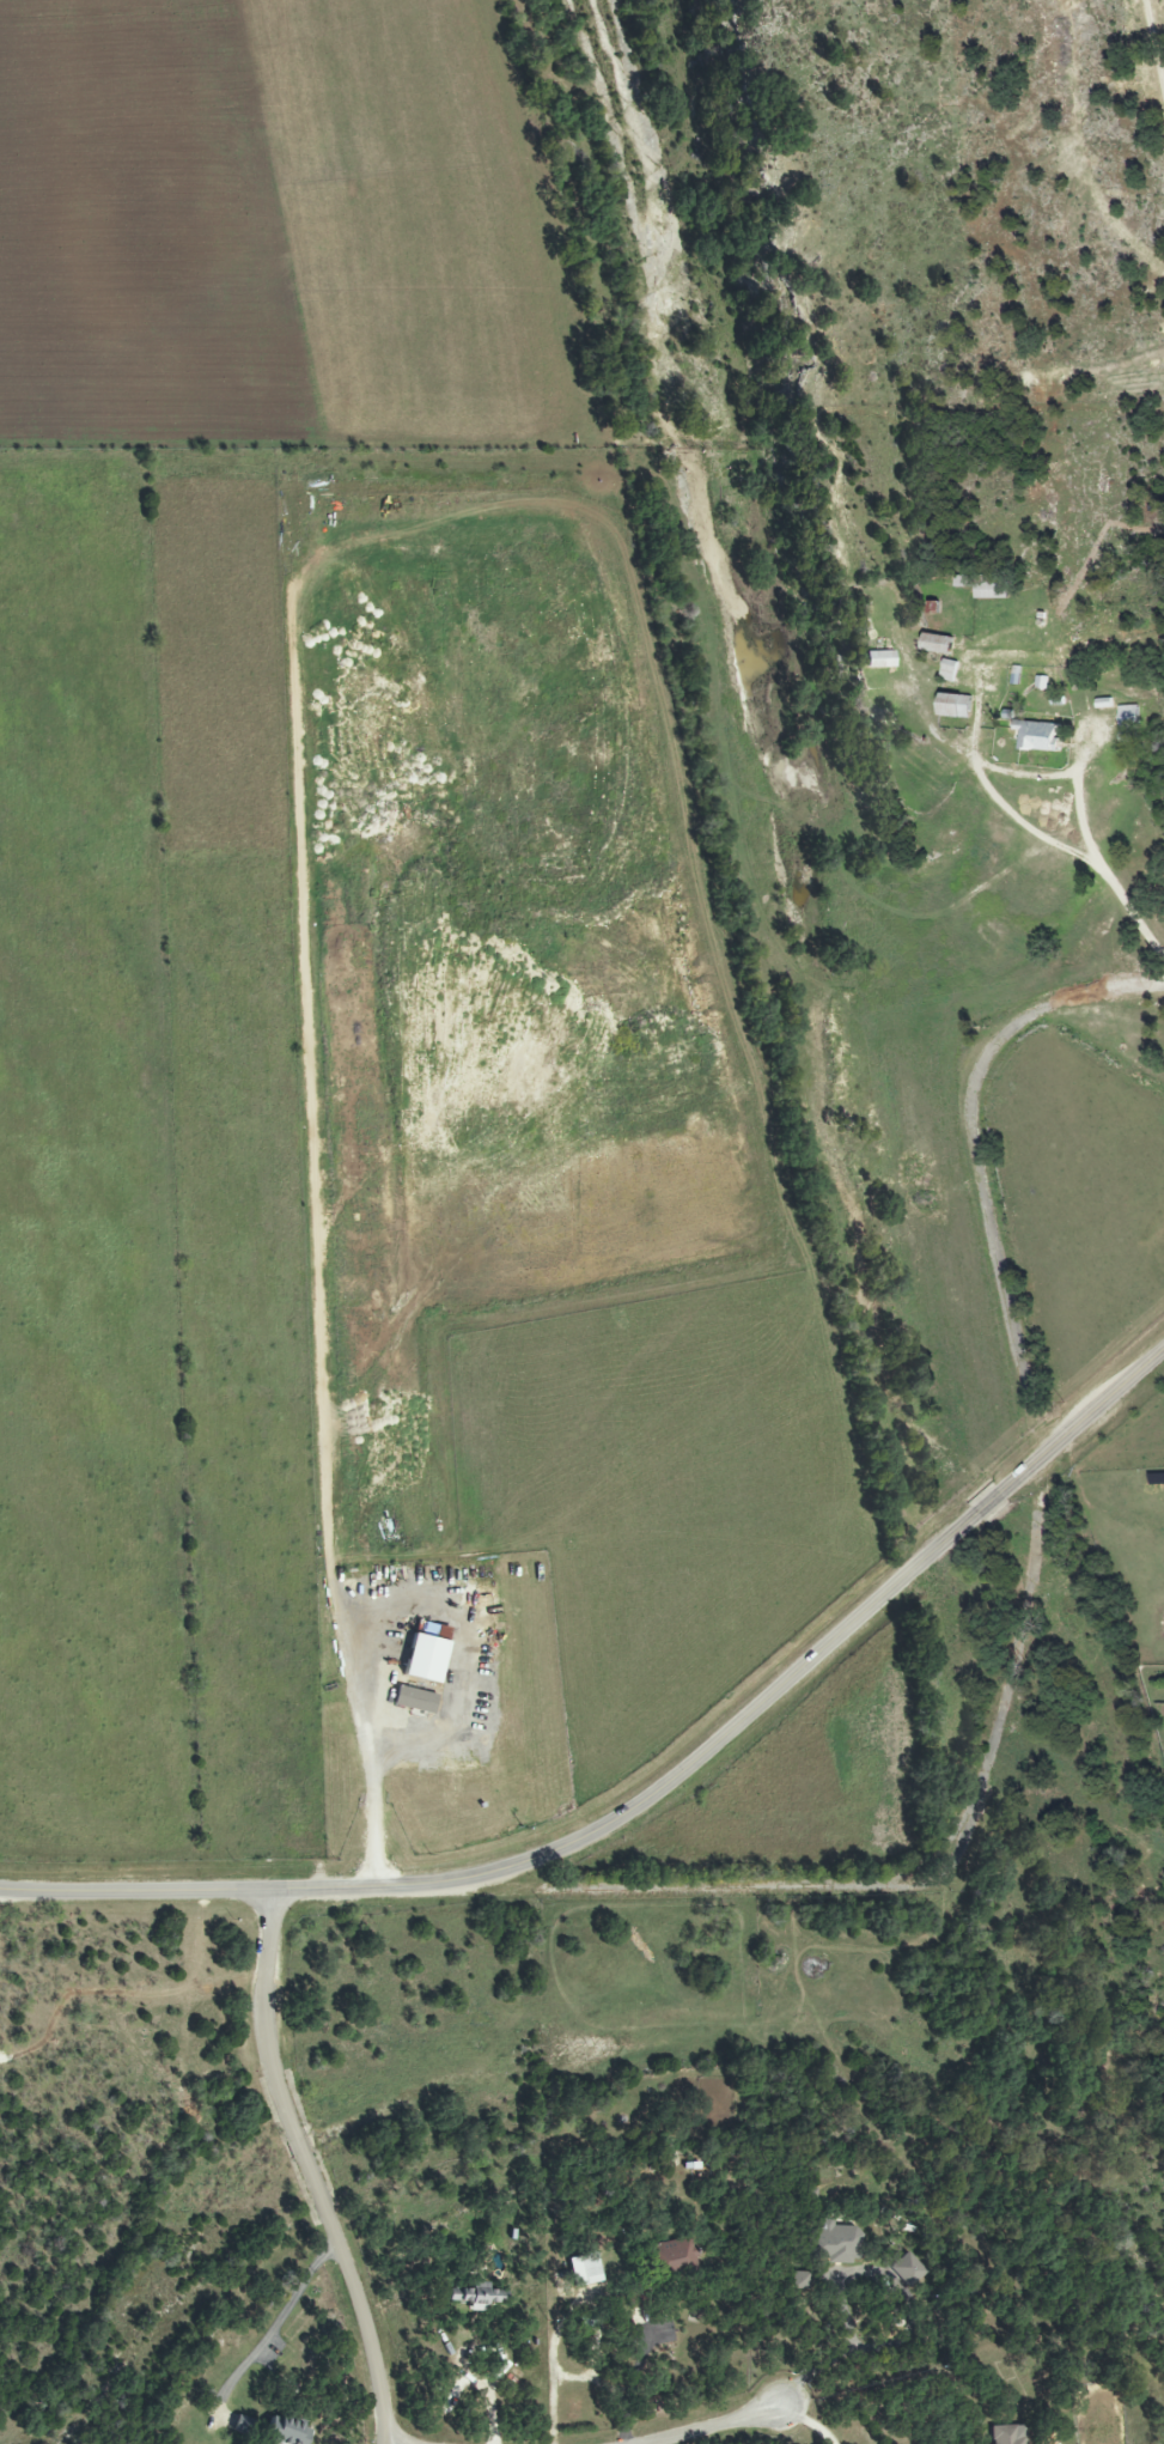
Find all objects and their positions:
road: (1152, 51)
building: (985, 585)
building: (937, 643)
building: (879, 659)
building: (949, 670)
building: (953, 705)
building: (1036, 736)
road: (1074, 853)
road: (311, 1145)
road: (1081, 1421)
road: (992, 1502)
road: (372, 1615)
building: (425, 1656)
building: (413, 1701)
road: (549, 1855)
road: (309, 2170)
building: (835, 2243)
building: (672, 2255)
building: (584, 2270)
building: (906, 2270)
building: (799, 2280)
building: (477, 2297)
road: (840, 2357)
road: (608, 2389)
road: (551, 2390)
road: (707, 2422)
road: (808, 2422)
building: (284, 2432)
building: (1007, 2434)

